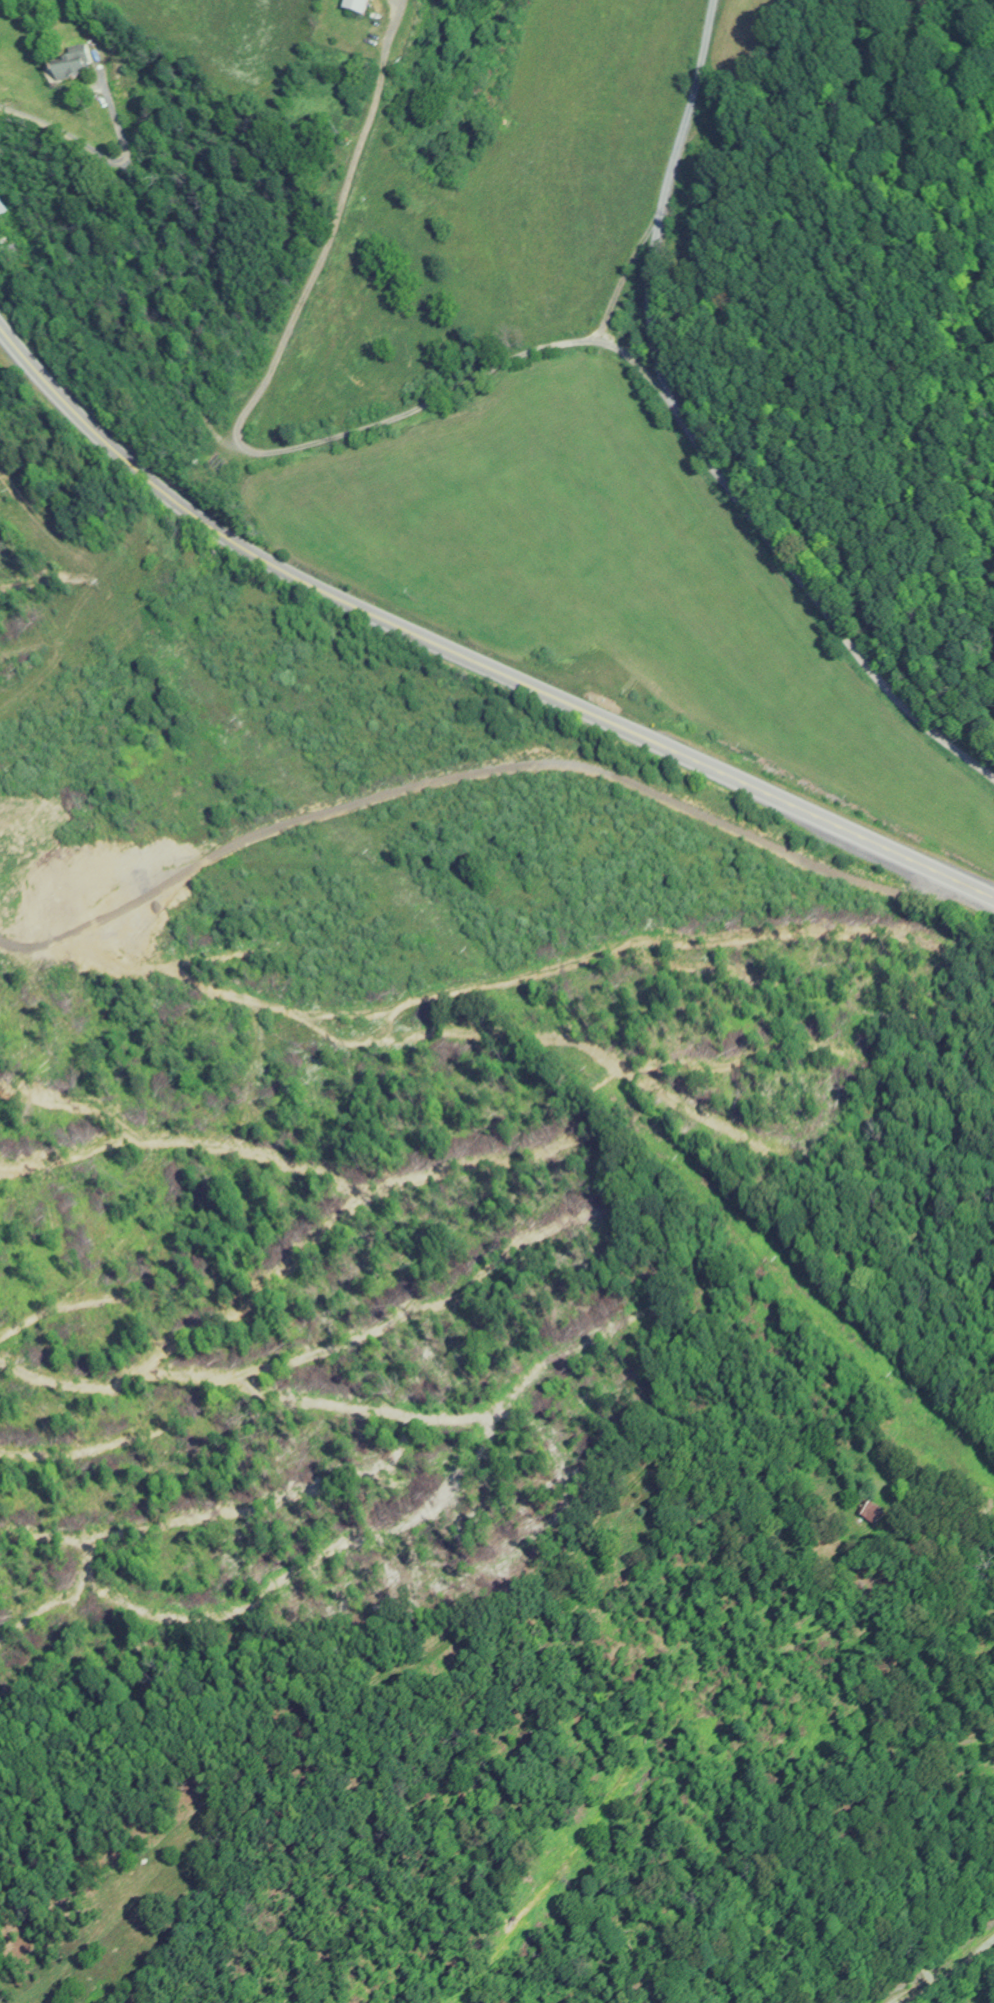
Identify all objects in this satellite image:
road: (107, 158)
road: (694, 437)
road: (467, 653)
road: (946, 1968)

